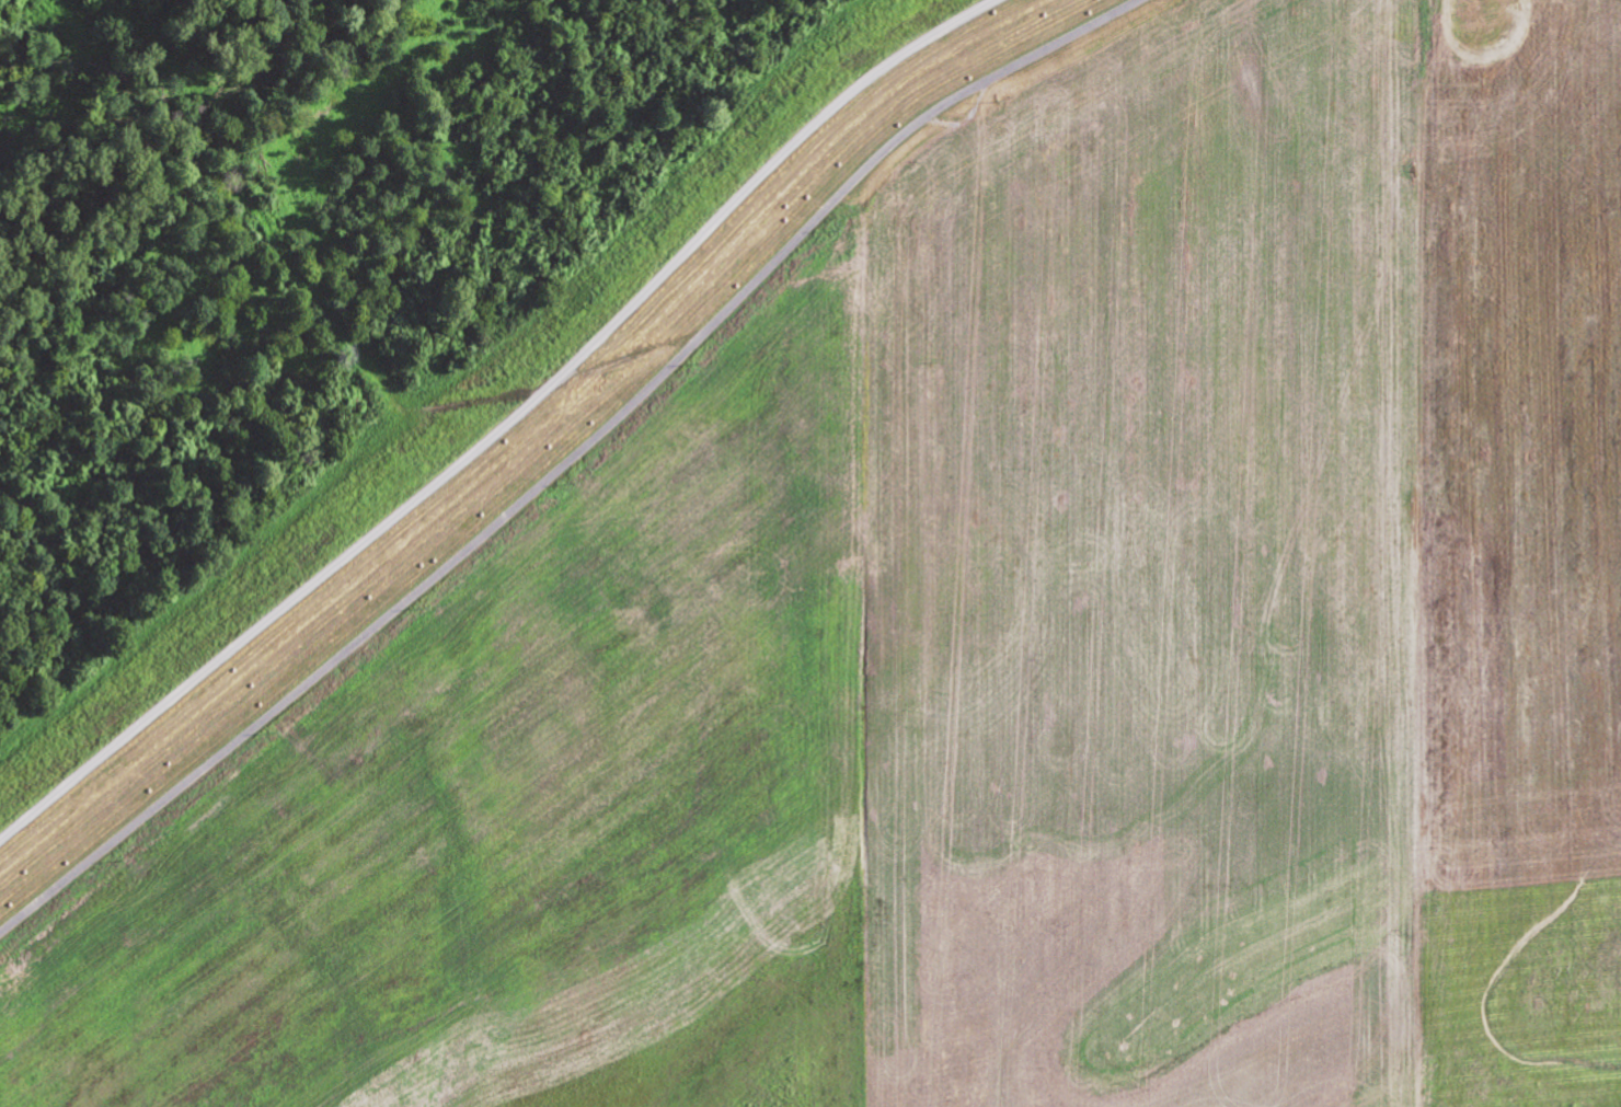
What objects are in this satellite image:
road: (507, 423)
road: (567, 461)

